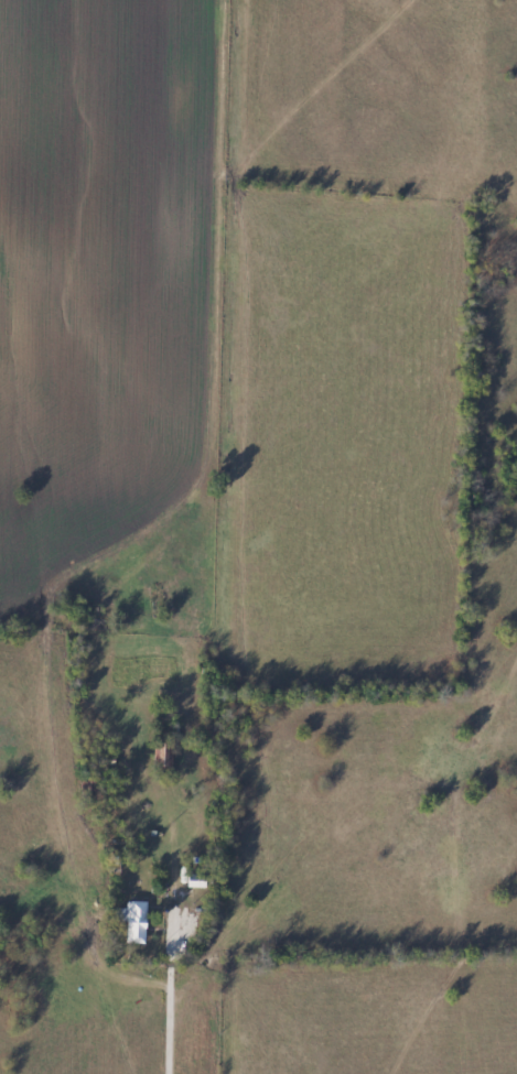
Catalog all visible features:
road: (146, 535)
building: (164, 756)
building: (116, 847)
building: (196, 881)
building: (138, 923)
building: (194, 923)

